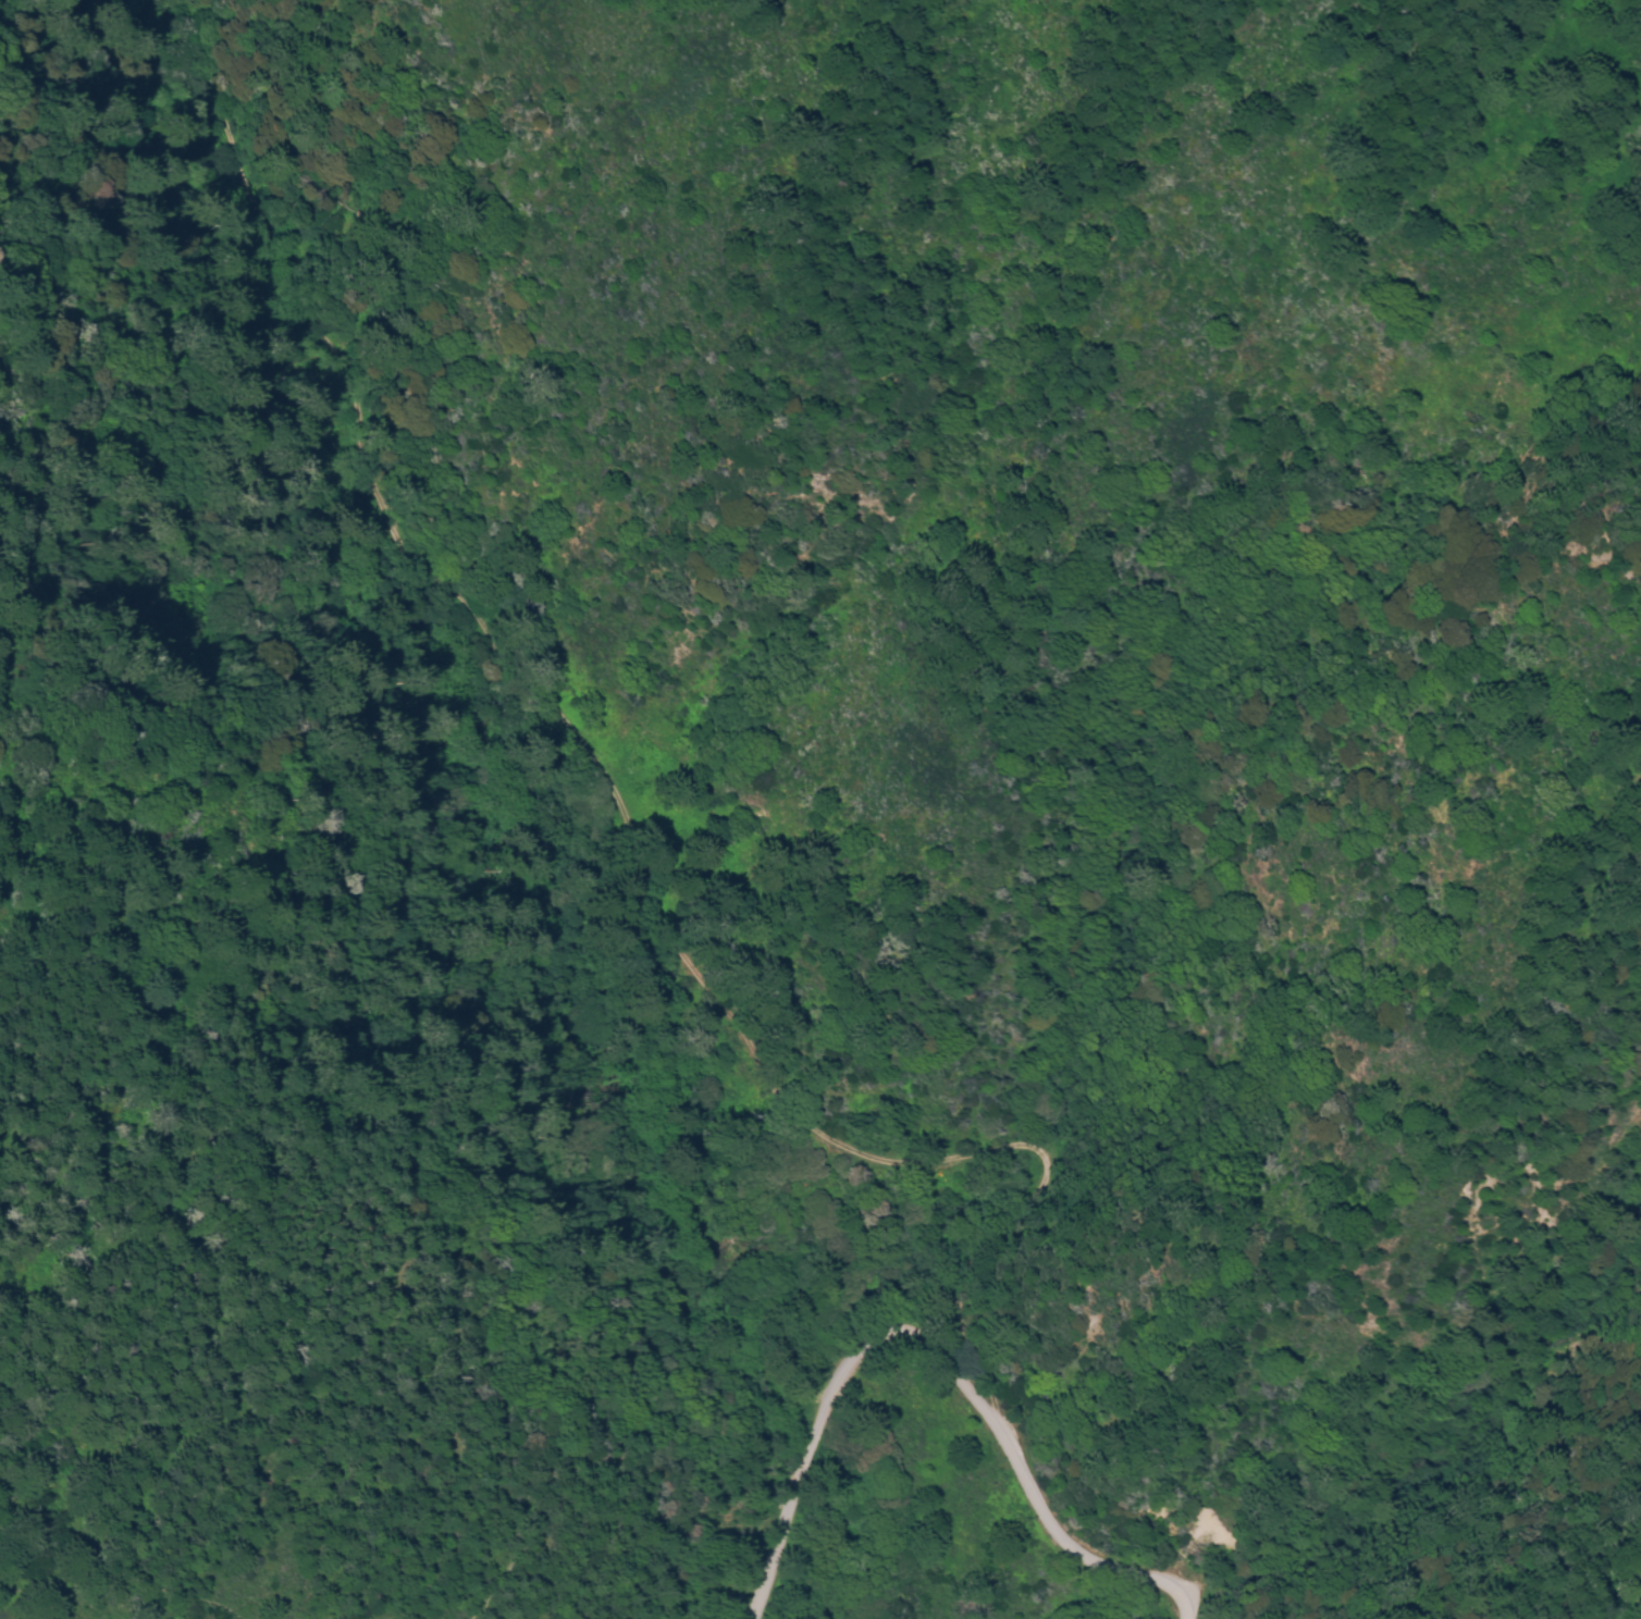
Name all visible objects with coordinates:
road: (945, 1354)

